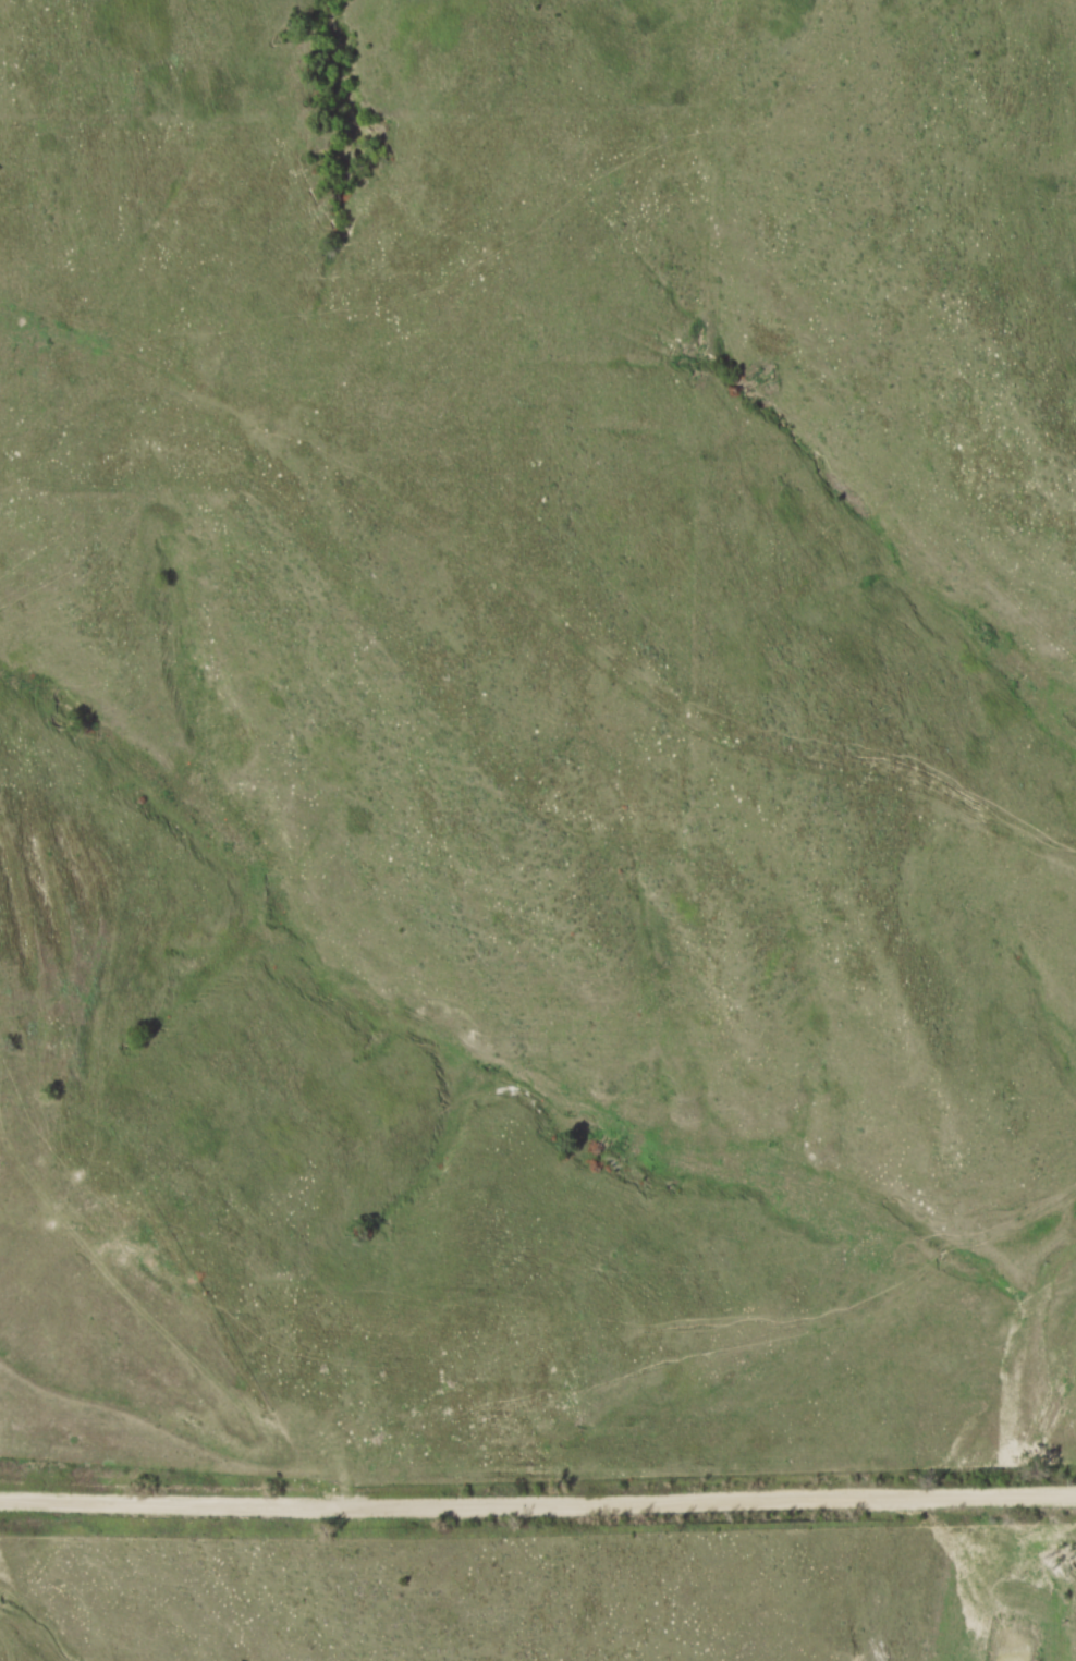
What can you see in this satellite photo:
road: (538, 1507)

